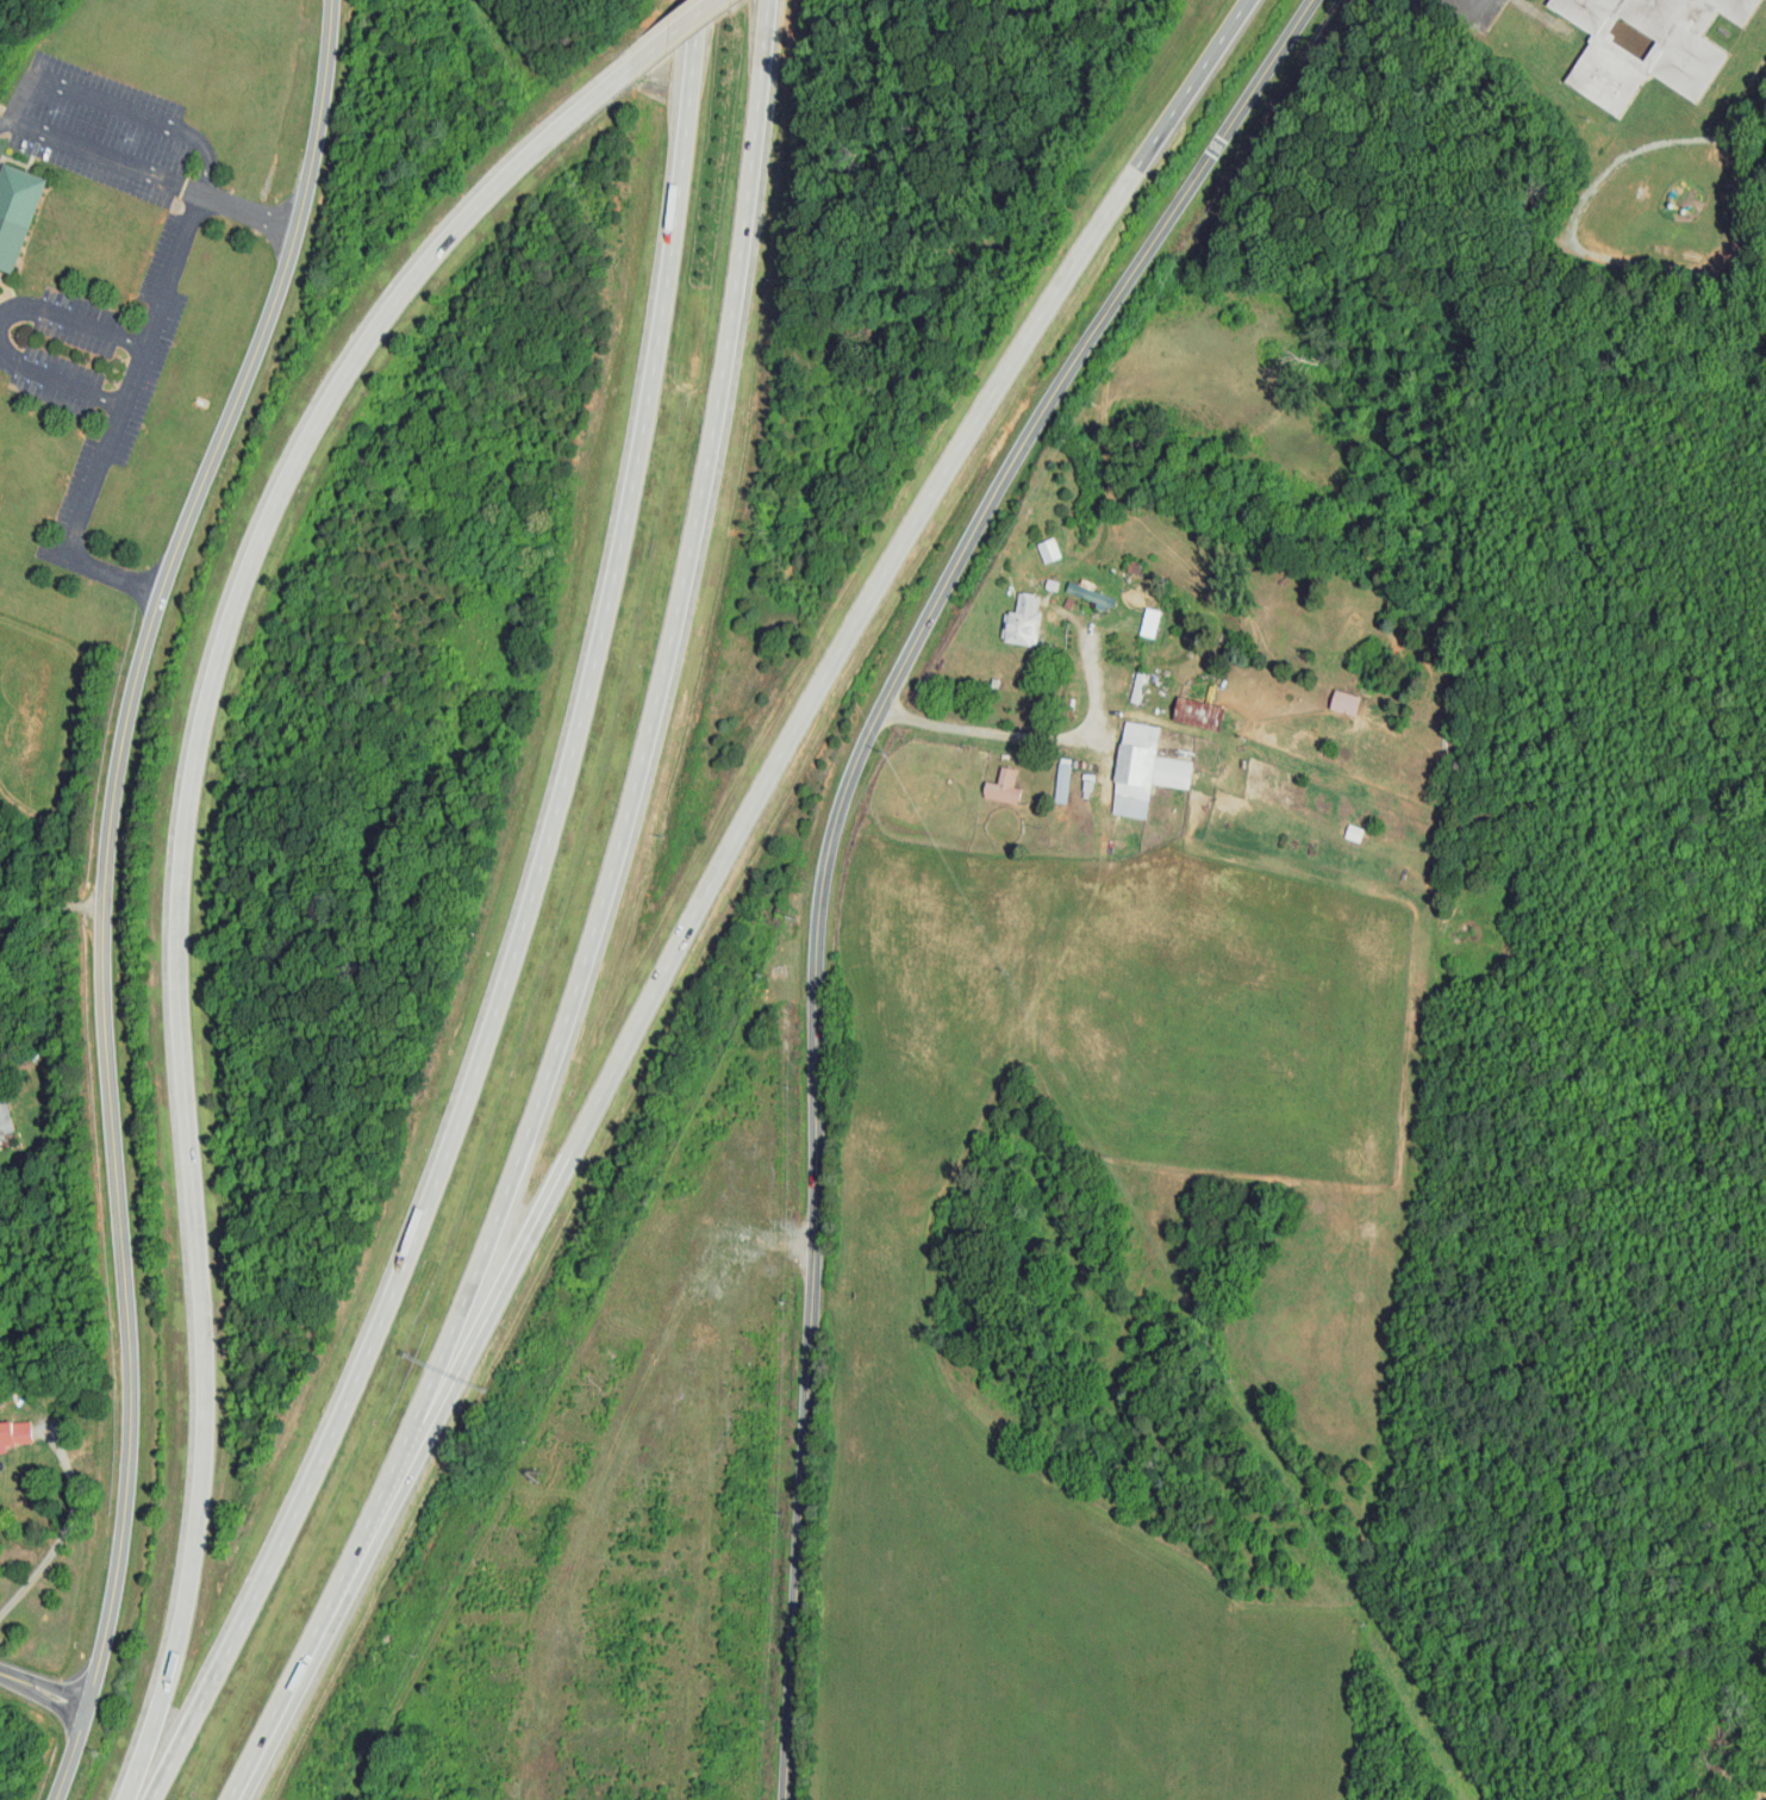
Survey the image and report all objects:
road: (680, 30)
building: (1648, 45)
road: (1191, 83)
road: (114, 104)
road: (110, 158)
building: (14, 211)
road: (68, 319)
road: (131, 379)
road: (60, 381)
road: (719, 407)
road: (950, 460)
road: (1006, 474)
building: (1047, 549)
building: (1088, 592)
building: (1149, 621)
building: (1022, 623)
building: (1342, 700)
building: (1199, 714)
road: (1031, 736)
building: (1143, 771)
building: (1062, 779)
building: (1001, 785)
building: (1062, 821)
road: (106, 841)
road: (182, 860)
road: (43, 914)
road: (519, 929)
building: (4, 1121)
road: (566, 1161)
road: (505, 1190)
road: (807, 1399)
building: (13, 1433)
road: (64, 1531)
road: (293, 1681)
road: (43, 1692)
road: (70, 1756)

